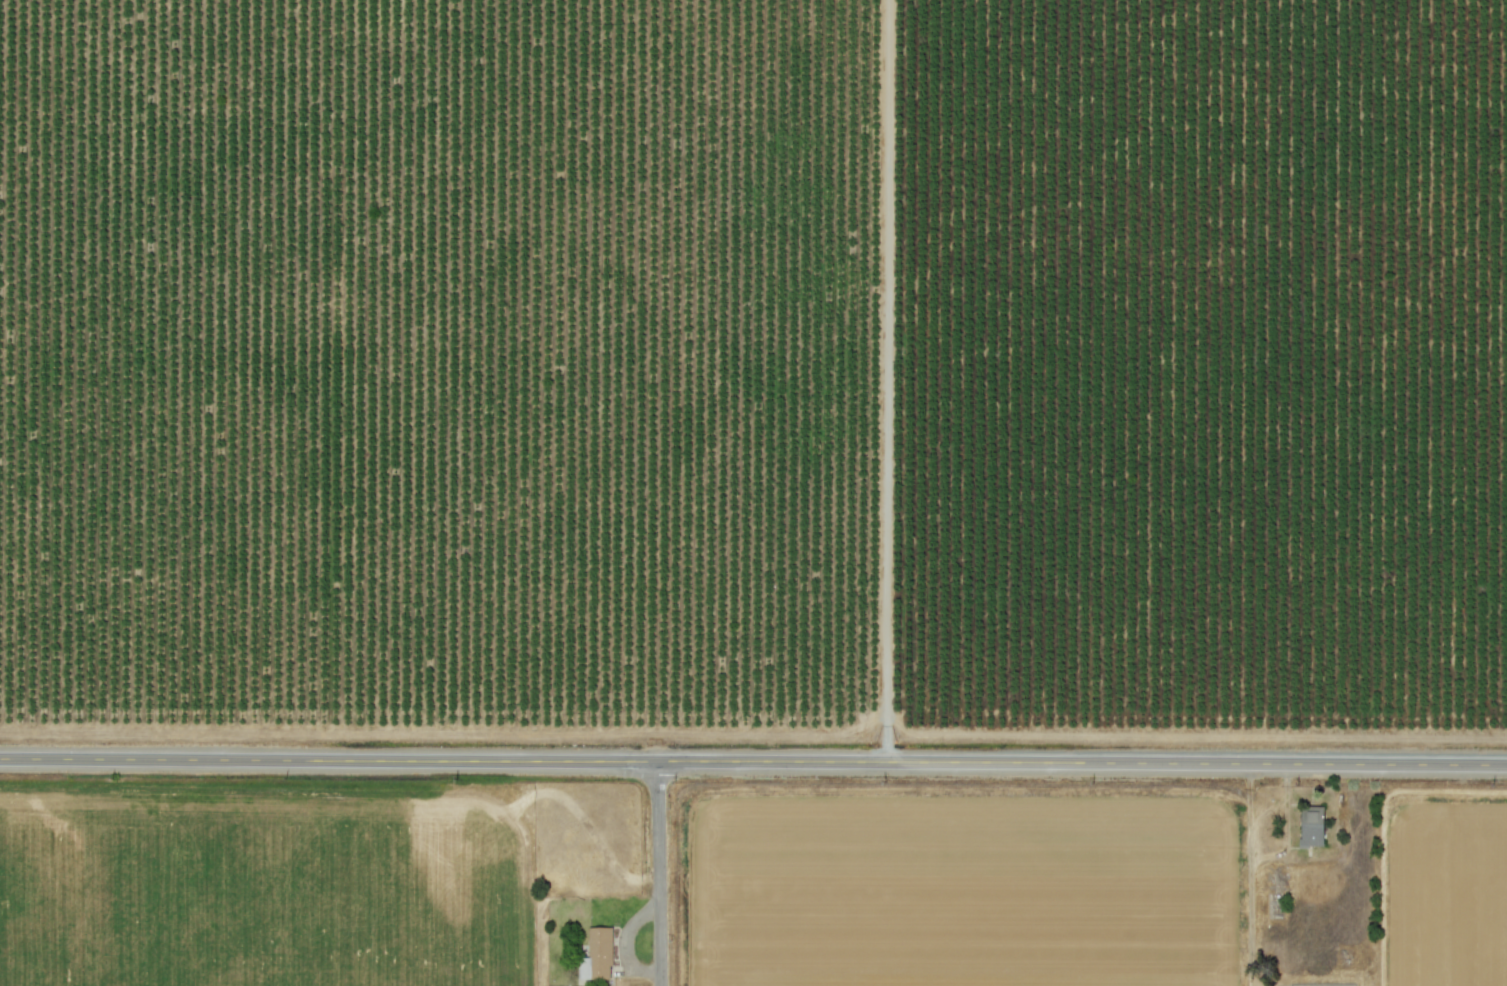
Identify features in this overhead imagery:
road: (753, 760)
road: (661, 873)
building: (602, 937)

